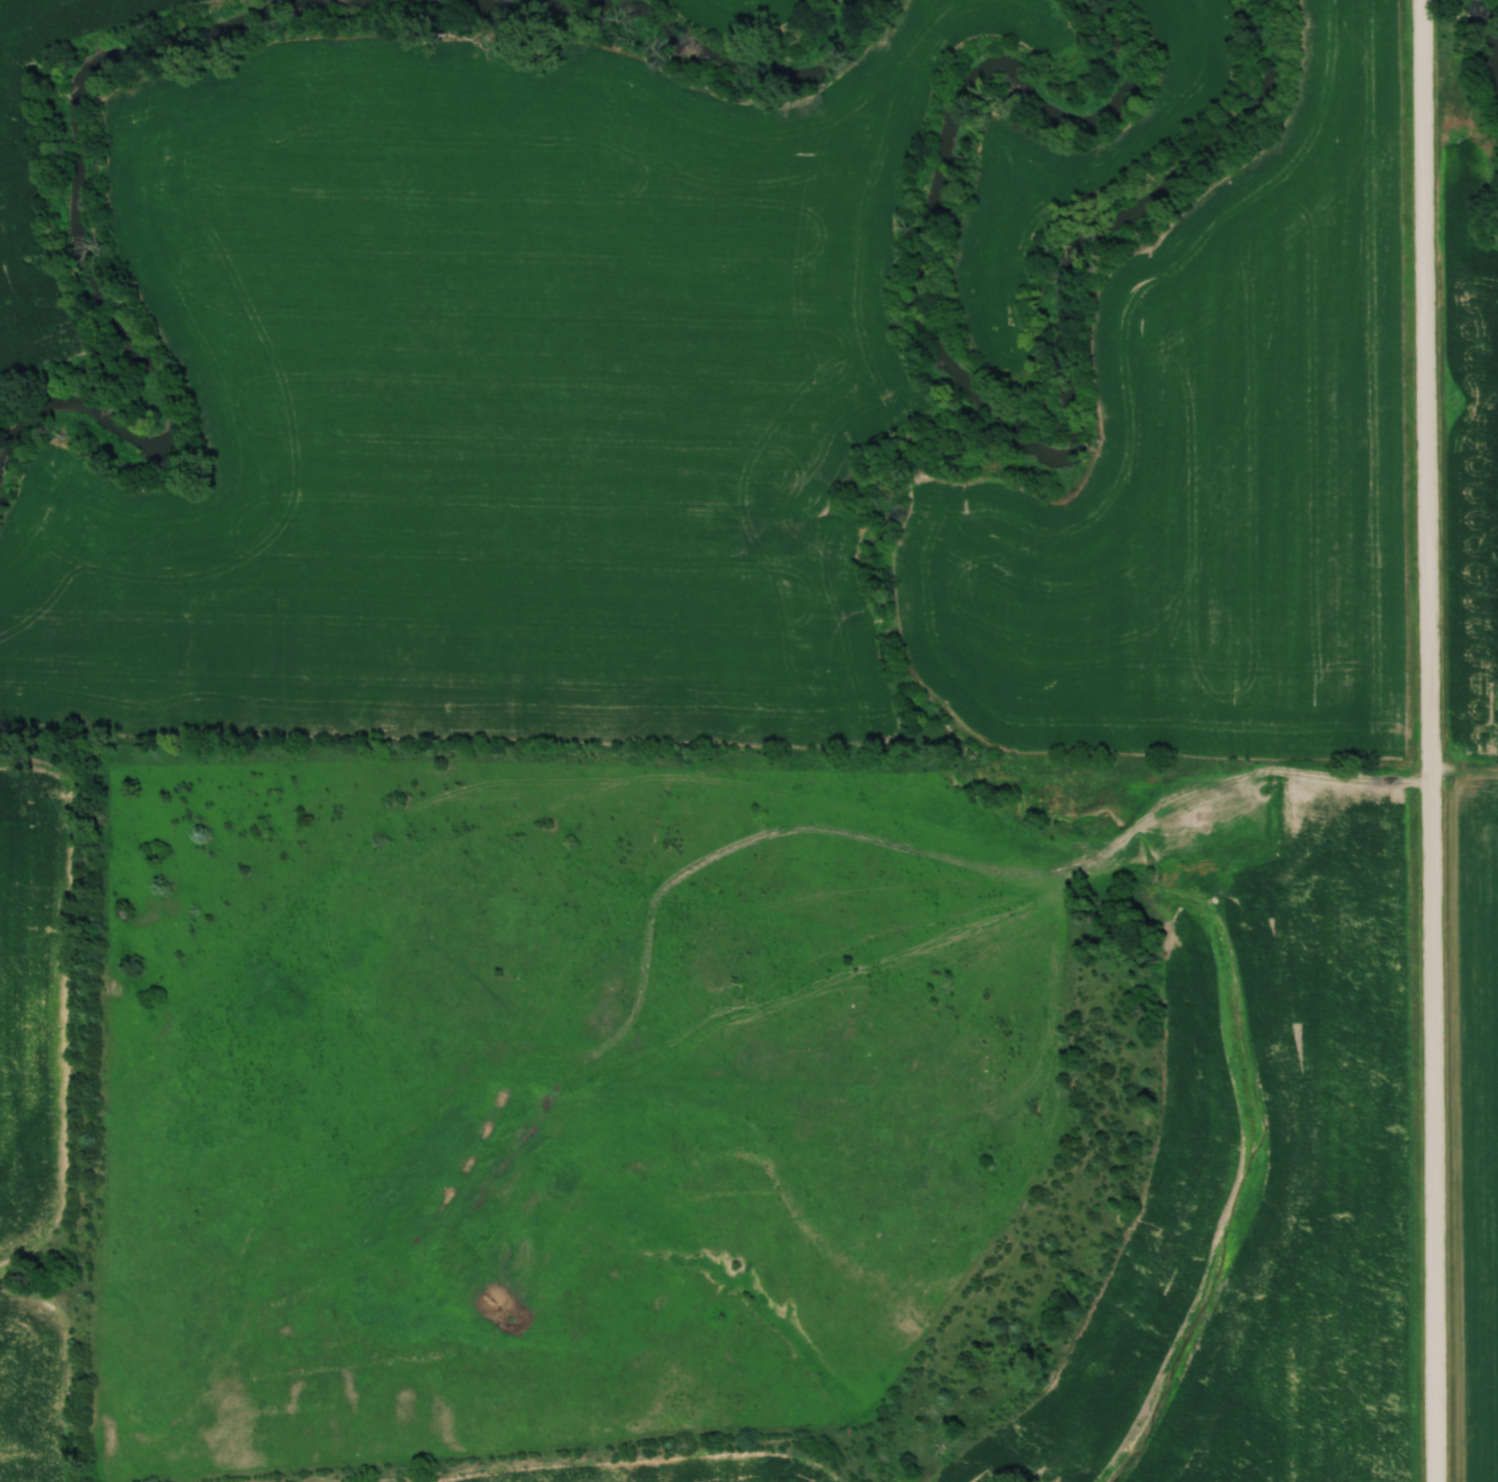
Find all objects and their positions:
river: (215, 37)
river: (1487, 40)
river: (1005, 436)
road: (1426, 741)

